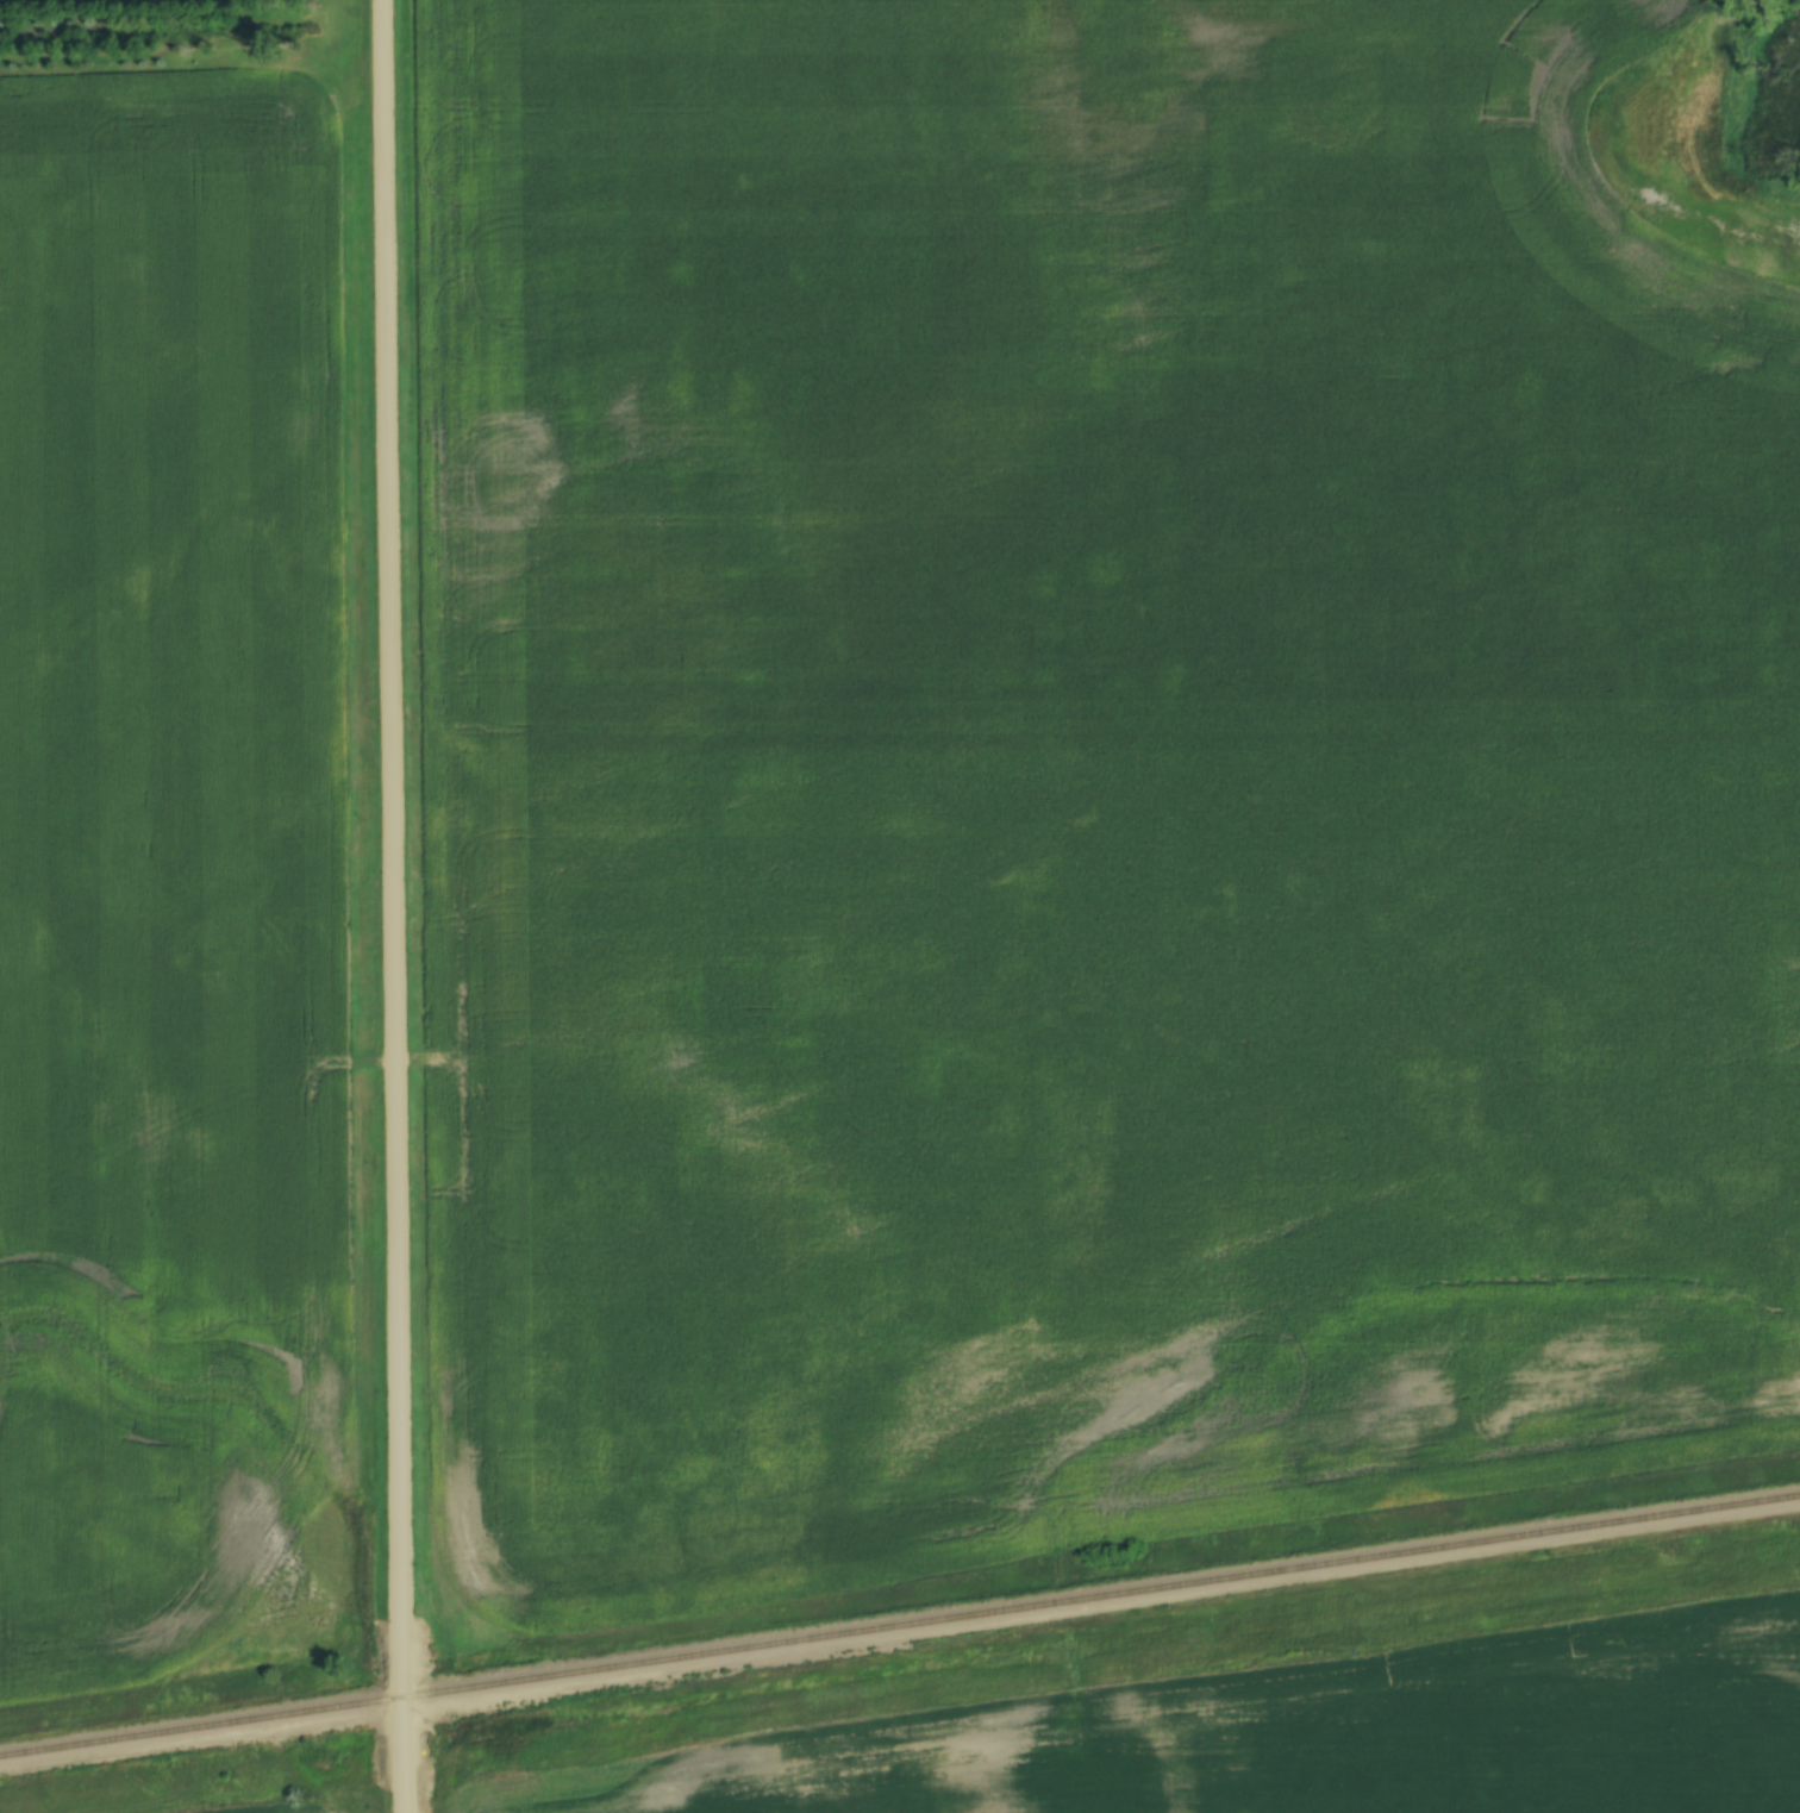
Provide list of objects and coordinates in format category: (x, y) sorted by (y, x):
road: (395, 906)
railway: (900, 1625)

